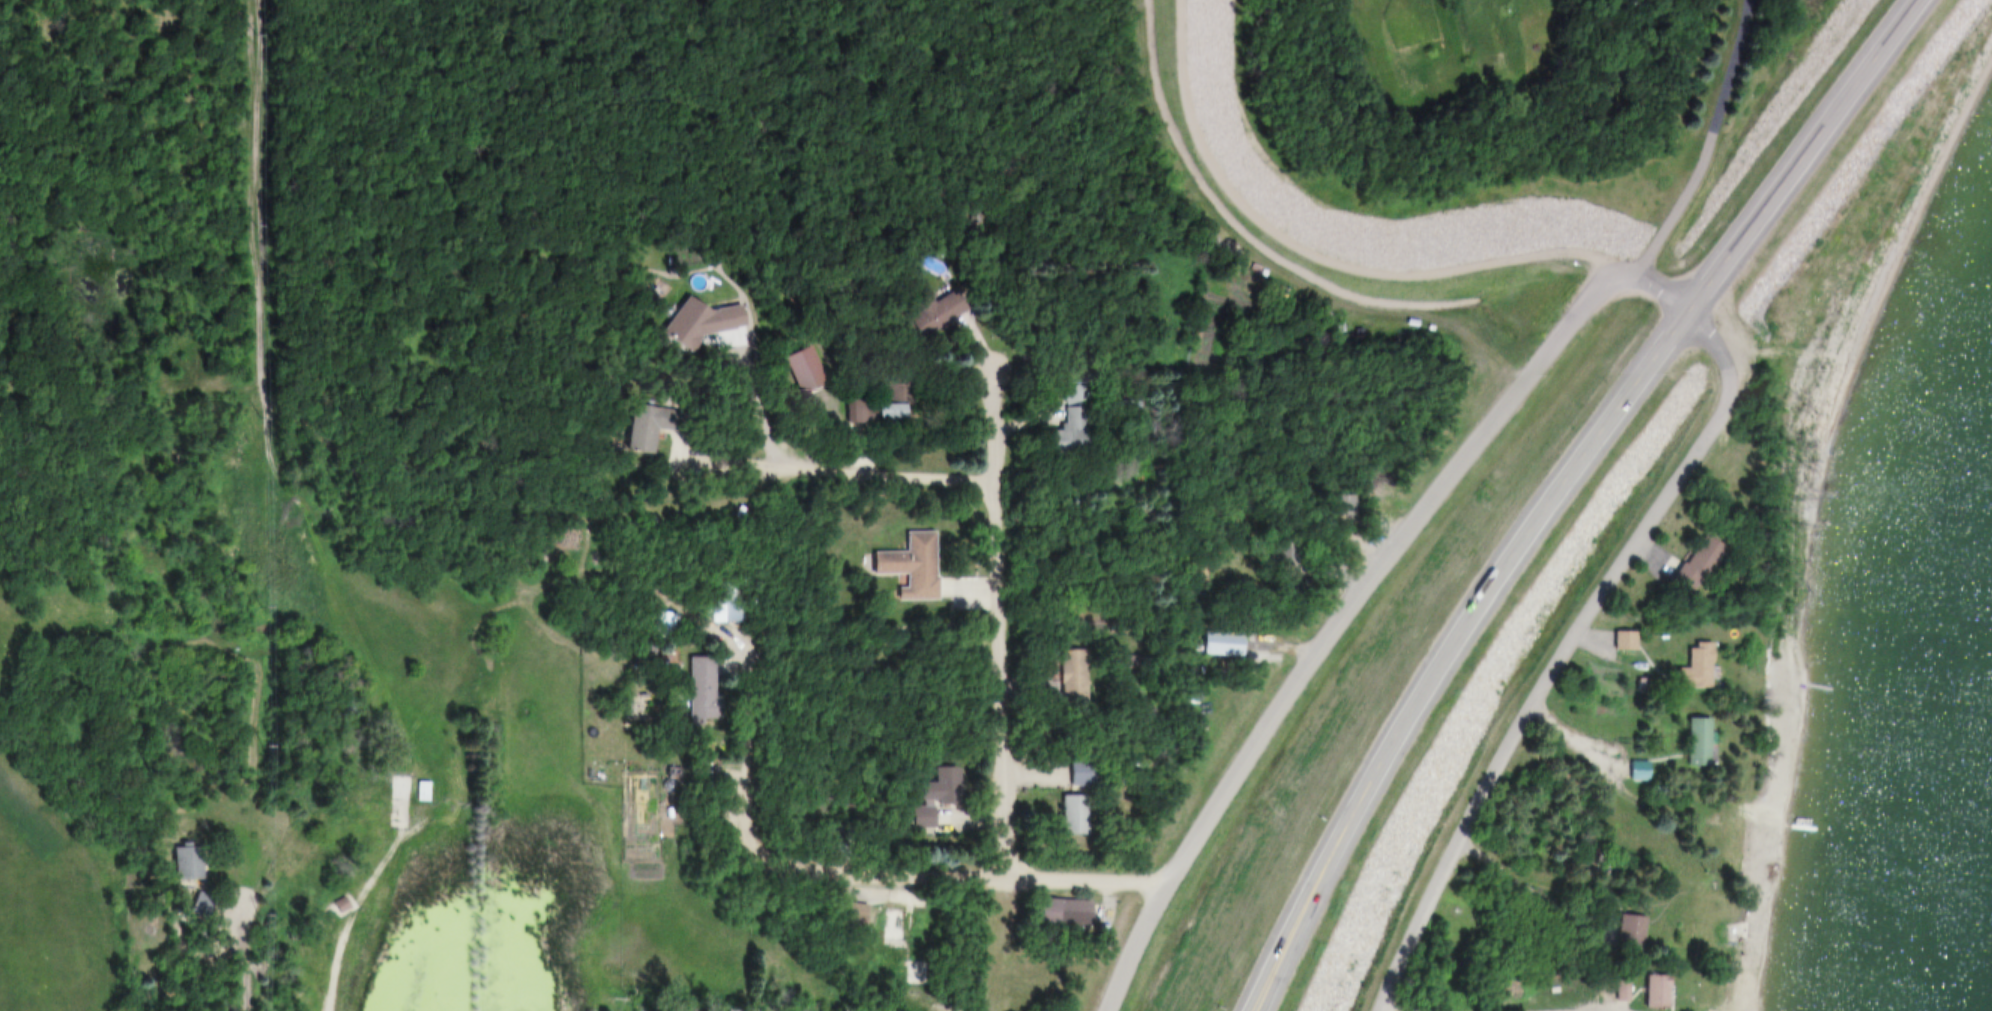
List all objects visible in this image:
road: (1712, 144)
road: (1668, 286)
building: (931, 309)
building: (692, 319)
building: (798, 366)
building: (1067, 405)
building: (862, 412)
building: (899, 412)
building: (646, 424)
building: (1077, 434)
road: (267, 459)
road: (850, 470)
building: (1389, 477)
road: (1577, 484)
building: (1342, 504)
building: (730, 506)
building: (1280, 547)
building: (1683, 559)
building: (903, 560)
building: (1701, 564)
building: (720, 610)
building: (655, 621)
road: (1003, 621)
building: (667, 625)
road: (1412, 630)
building: (1616, 637)
building: (1215, 641)
building: (1627, 642)
road: (1574, 643)
building: (1135, 662)
building: (1684, 665)
building: (1699, 669)
building: (1067, 671)
building: (1078, 681)
building: (1265, 690)
building: (696, 691)
building: (1686, 737)
building: (1701, 743)
building: (1631, 767)
building: (1073, 769)
building: (1641, 772)
building: (1085, 774)
building: (413, 788)
building: (424, 792)
road: (1641, 793)
building: (933, 796)
building: (1064, 810)
building: (1078, 815)
building: (841, 835)
building: (1748, 837)
building: (175, 858)
building: (190, 863)
road: (885, 875)
building: (188, 902)
building: (333, 903)
building: (204, 905)
building: (1053, 907)
building: (846, 909)
building: (1717, 915)
building: (859, 916)
road: (346, 918)
building: (892, 926)
building: (1622, 929)
road: (233, 952)
building: (1128, 973)
building: (1612, 987)
building: (1644, 987)
building: (1599, 990)
building: (1659, 993)
building: (734, 1007)

